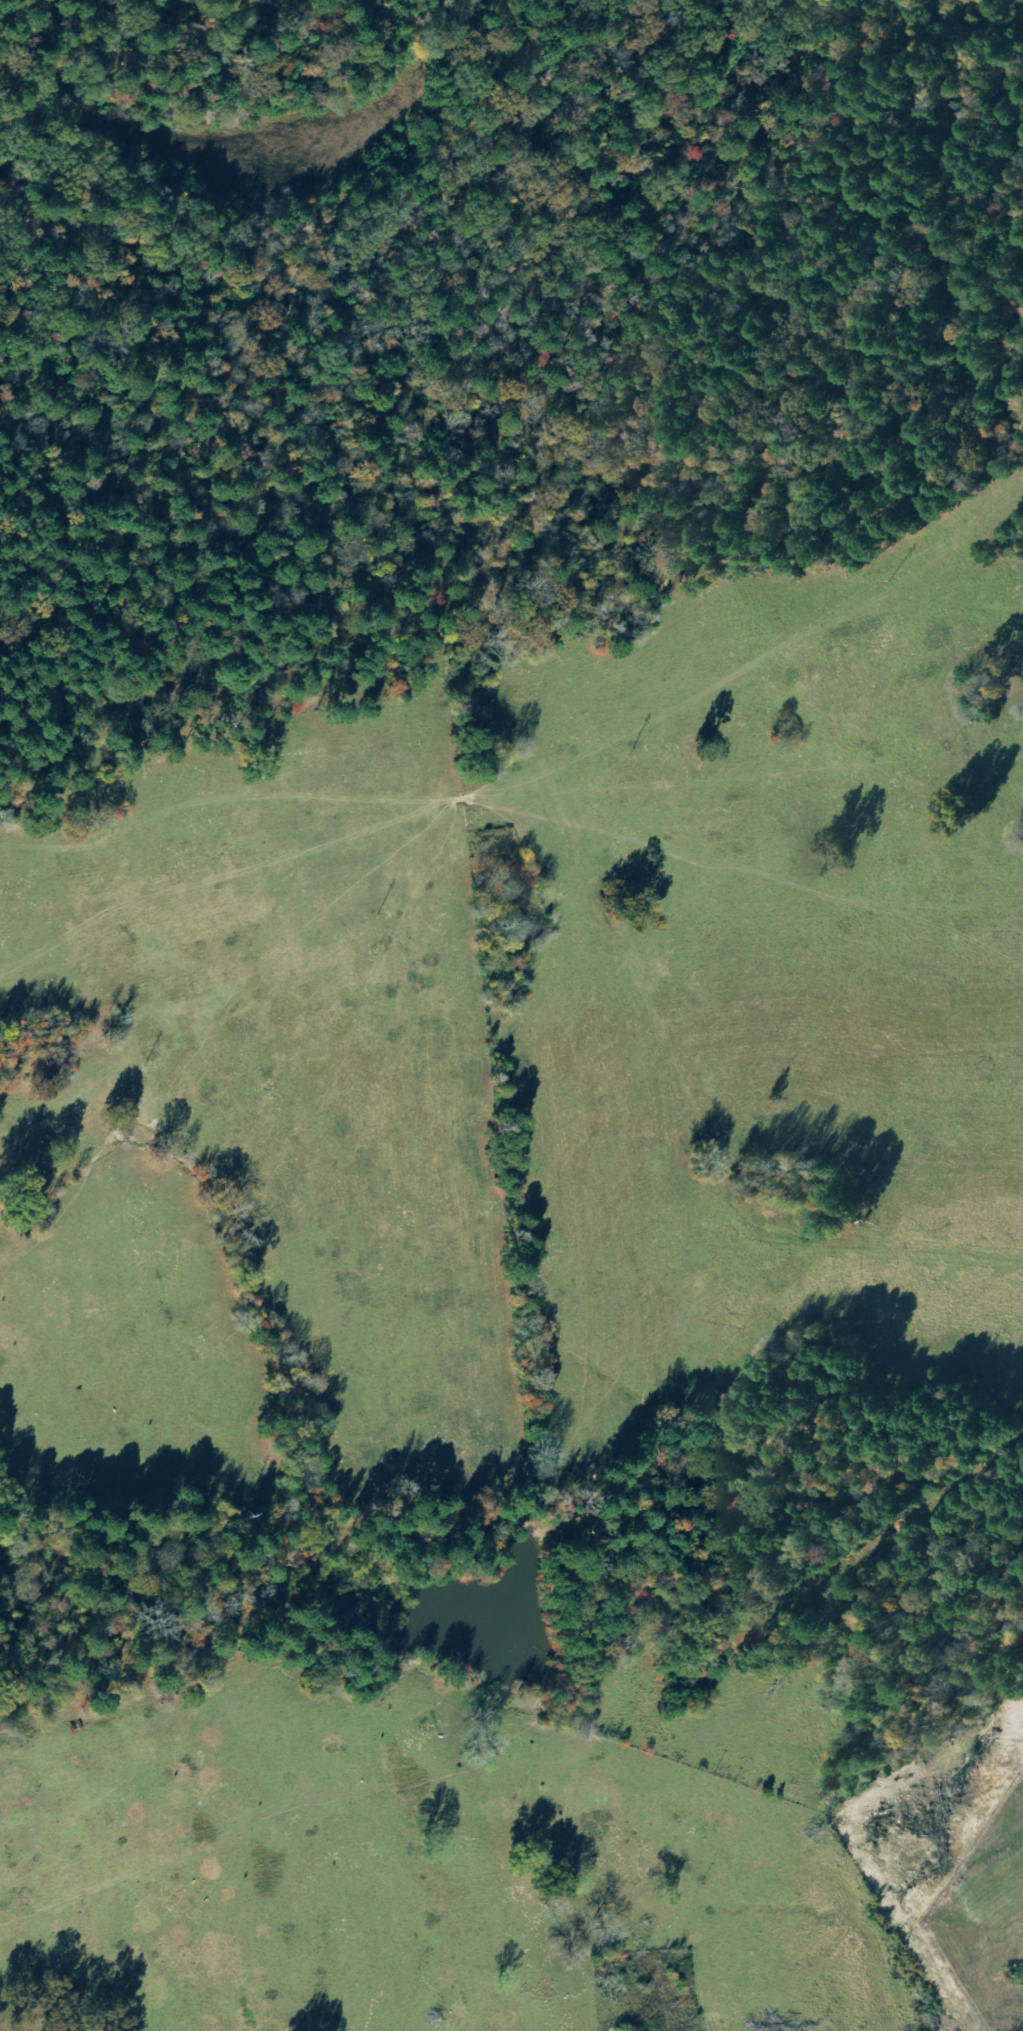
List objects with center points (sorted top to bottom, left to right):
airport: (983, 1894)

